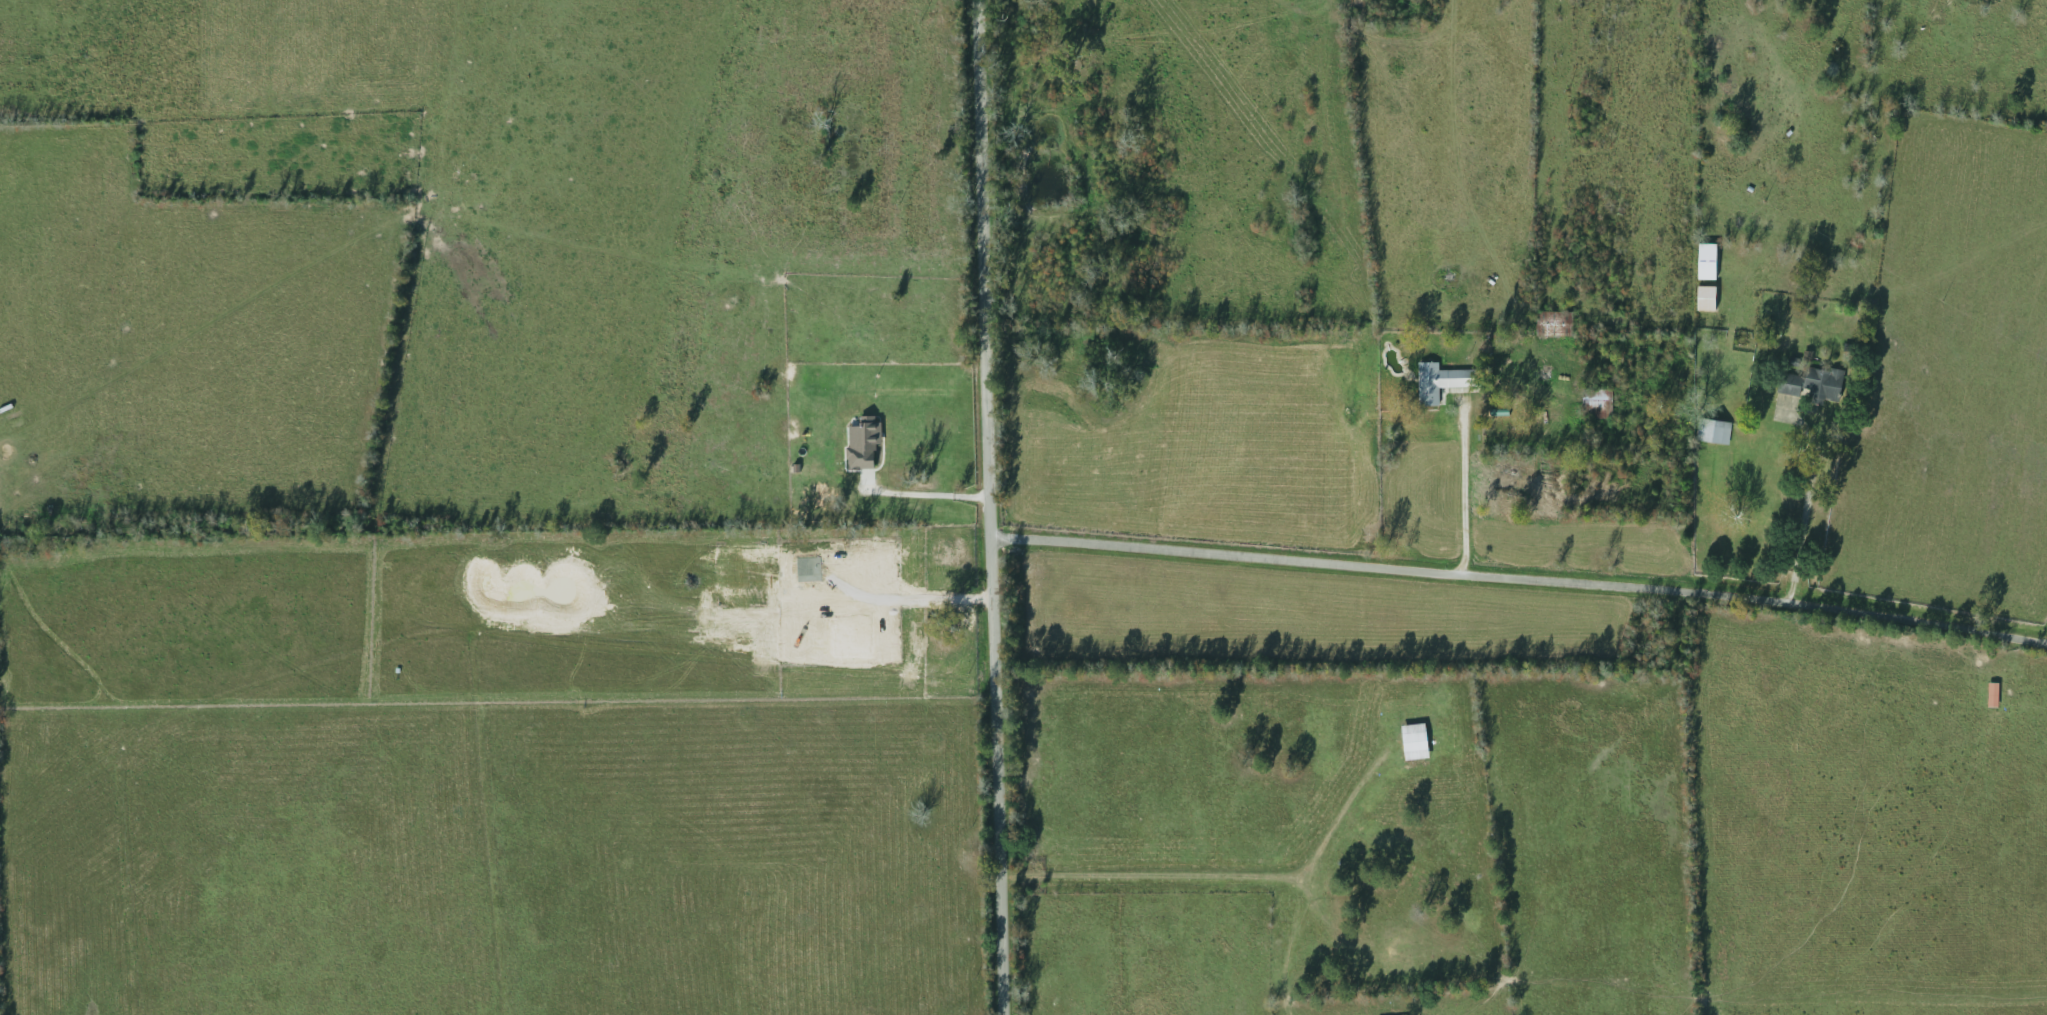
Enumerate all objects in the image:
building: (1707, 260)
building: (1706, 297)
building: (1551, 323)
building: (1442, 381)
building: (1813, 383)
building: (1597, 403)
building: (1713, 431)
road: (1463, 486)
road: (921, 497)
road: (1805, 498)
road: (990, 507)
road: (1520, 575)
building: (1993, 694)
building: (1415, 741)

